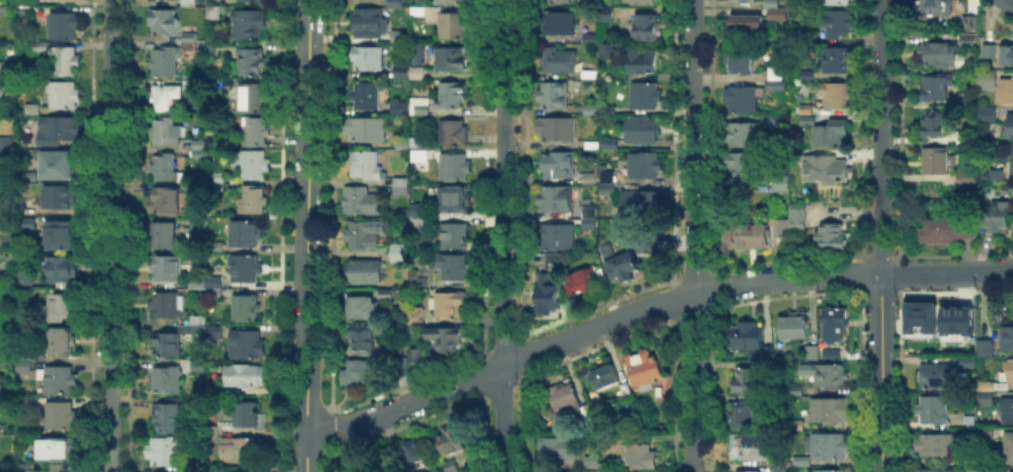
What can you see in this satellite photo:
building: (164, 0)
building: (743, 0)
building: (251, 1)
building: (559, 1)
building: (452, 2)
building: (643, 2)
building: (835, 2)
road: (1009, 2)
building: (190, 3)
building: (395, 3)
building: (933, 8)
building: (417, 9)
building: (771, 11)
building: (213, 13)
building: (608, 13)
building: (164, 23)
building: (249, 24)
building: (559, 24)
building: (453, 25)
building: (837, 25)
building: (968, 25)
building: (64, 26)
building: (374, 26)
building: (741, 26)
building: (646, 28)
building: (188, 35)
building: (589, 36)
building: (967, 41)
building: (190, 47)
building: (601, 49)
building: (990, 52)
building: (1007, 55)
building: (940, 56)
building: (417, 57)
building: (742, 58)
building: (450, 59)
building: (727, 59)
building: (63, 60)
building: (367, 60)
building: (640, 61)
building: (837, 61)
building: (559, 62)
building: (164, 63)
building: (250, 63)
building: (403, 73)
building: (416, 73)
building: (775, 75)
building: (588, 76)
building: (808, 77)
building: (986, 83)
building: (773, 85)
building: (3, 86)
building: (936, 88)
building: (1006, 92)
building: (834, 94)
building: (365, 95)
building: (451, 95)
building: (64, 96)
building: (553, 96)
building: (646, 97)
building: (164, 98)
building: (253, 100)
building: (742, 101)
building: (398, 107)
building: (421, 107)
building: (598, 109)
building: (32, 110)
building: (983, 114)
building: (766, 120)
building: (933, 125)
building: (60, 129)
building: (1008, 130)
building: (367, 131)
building: (559, 131)
building: (253, 132)
building: (164, 133)
building: (452, 133)
building: (743, 135)
building: (829, 135)
building: (643, 136)
road: (881, 137)
building: (963, 140)
building: (4, 141)
building: (418, 142)
building: (197, 144)
building: (610, 144)
building: (402, 145)
building: (591, 147)
building: (201, 156)
building: (419, 157)
building: (1012, 160)
building: (936, 161)
building: (364, 164)
building: (823, 164)
building: (64, 166)
building: (558, 166)
building: (646, 166)
building: (254, 167)
building: (743, 167)
building: (455, 168)
building: (163, 169)
building: (969, 173)
building: (607, 178)
building: (217, 179)
building: (589, 179)
building: (780, 185)
building: (402, 187)
building: (58, 197)
building: (454, 200)
building: (5, 201)
building: (555, 201)
building: (364, 202)
building: (166, 203)
building: (255, 203)
building: (643, 206)
building: (589, 211)
building: (797, 217)
building: (995, 217)
building: (414, 222)
building: (588, 222)
building: (941, 231)
building: (248, 234)
road: (691, 235)
building: (747, 235)
building: (59, 236)
road: (110, 236)
building: (163, 236)
road: (306, 236)
road: (501, 236)
building: (362, 238)
building: (455, 238)
building: (555, 239)
building: (832, 239)
building: (644, 241)
building: (613, 247)
building: (215, 248)
building: (604, 249)
building: (402, 252)
building: (553, 260)
building: (625, 266)
building: (62, 270)
building: (167, 270)
building: (246, 270)
building: (454, 270)
building: (366, 272)
road: (947, 274)
building: (195, 281)
building: (214, 281)
building: (584, 283)
building: (418, 284)
building: (386, 292)
building: (212, 293)
building: (546, 301)
building: (168, 305)
building: (449, 306)
building: (62, 308)
building: (361, 308)
building: (246, 310)
building: (919, 316)
building: (416, 318)
building: (955, 319)
building: (195, 326)
building: (795, 327)
building: (835, 327)
building: (214, 331)
road: (587, 331)
building: (749, 336)
building: (361, 338)
building: (1008, 340)
building: (446, 341)
building: (62, 342)
building: (167, 346)
building: (245, 346)
building: (985, 350)
building: (384, 353)
building: (813, 354)
building: (832, 356)
building: (417, 357)
building: (23, 360)
building: (967, 363)
building: (401, 368)
building: (644, 371)
road: (880, 373)
building: (1010, 373)
building: (363, 375)
building: (605, 376)
building: (829, 376)
building: (244, 377)
building: (936, 378)
building: (166, 380)
building: (58, 381)
building: (747, 381)
building: (986, 386)
building: (213, 388)
building: (798, 391)
building: (564, 397)
building: (985, 399)
building: (580, 411)
building: (934, 411)
building: (831, 412)
building: (1007, 412)
building: (60, 416)
building: (247, 416)
building: (743, 416)
building: (169, 418)
building: (797, 426)
building: (212, 435)
building: (985, 436)
building: (453, 442)
building: (557, 447)
building: (751, 447)
building: (935, 447)
building: (241, 450)
building: (57, 451)
building: (820, 451)
building: (1009, 451)
building: (164, 453)
building: (631, 453)
building: (412, 455)
building: (591, 460)
building: (451, 466)
building: (780, 467)
building: (932, 469)
building: (743, 470)
building: (828, 470)
building: (984, 470)
building: (239, 471)
building: (1009, 471)

